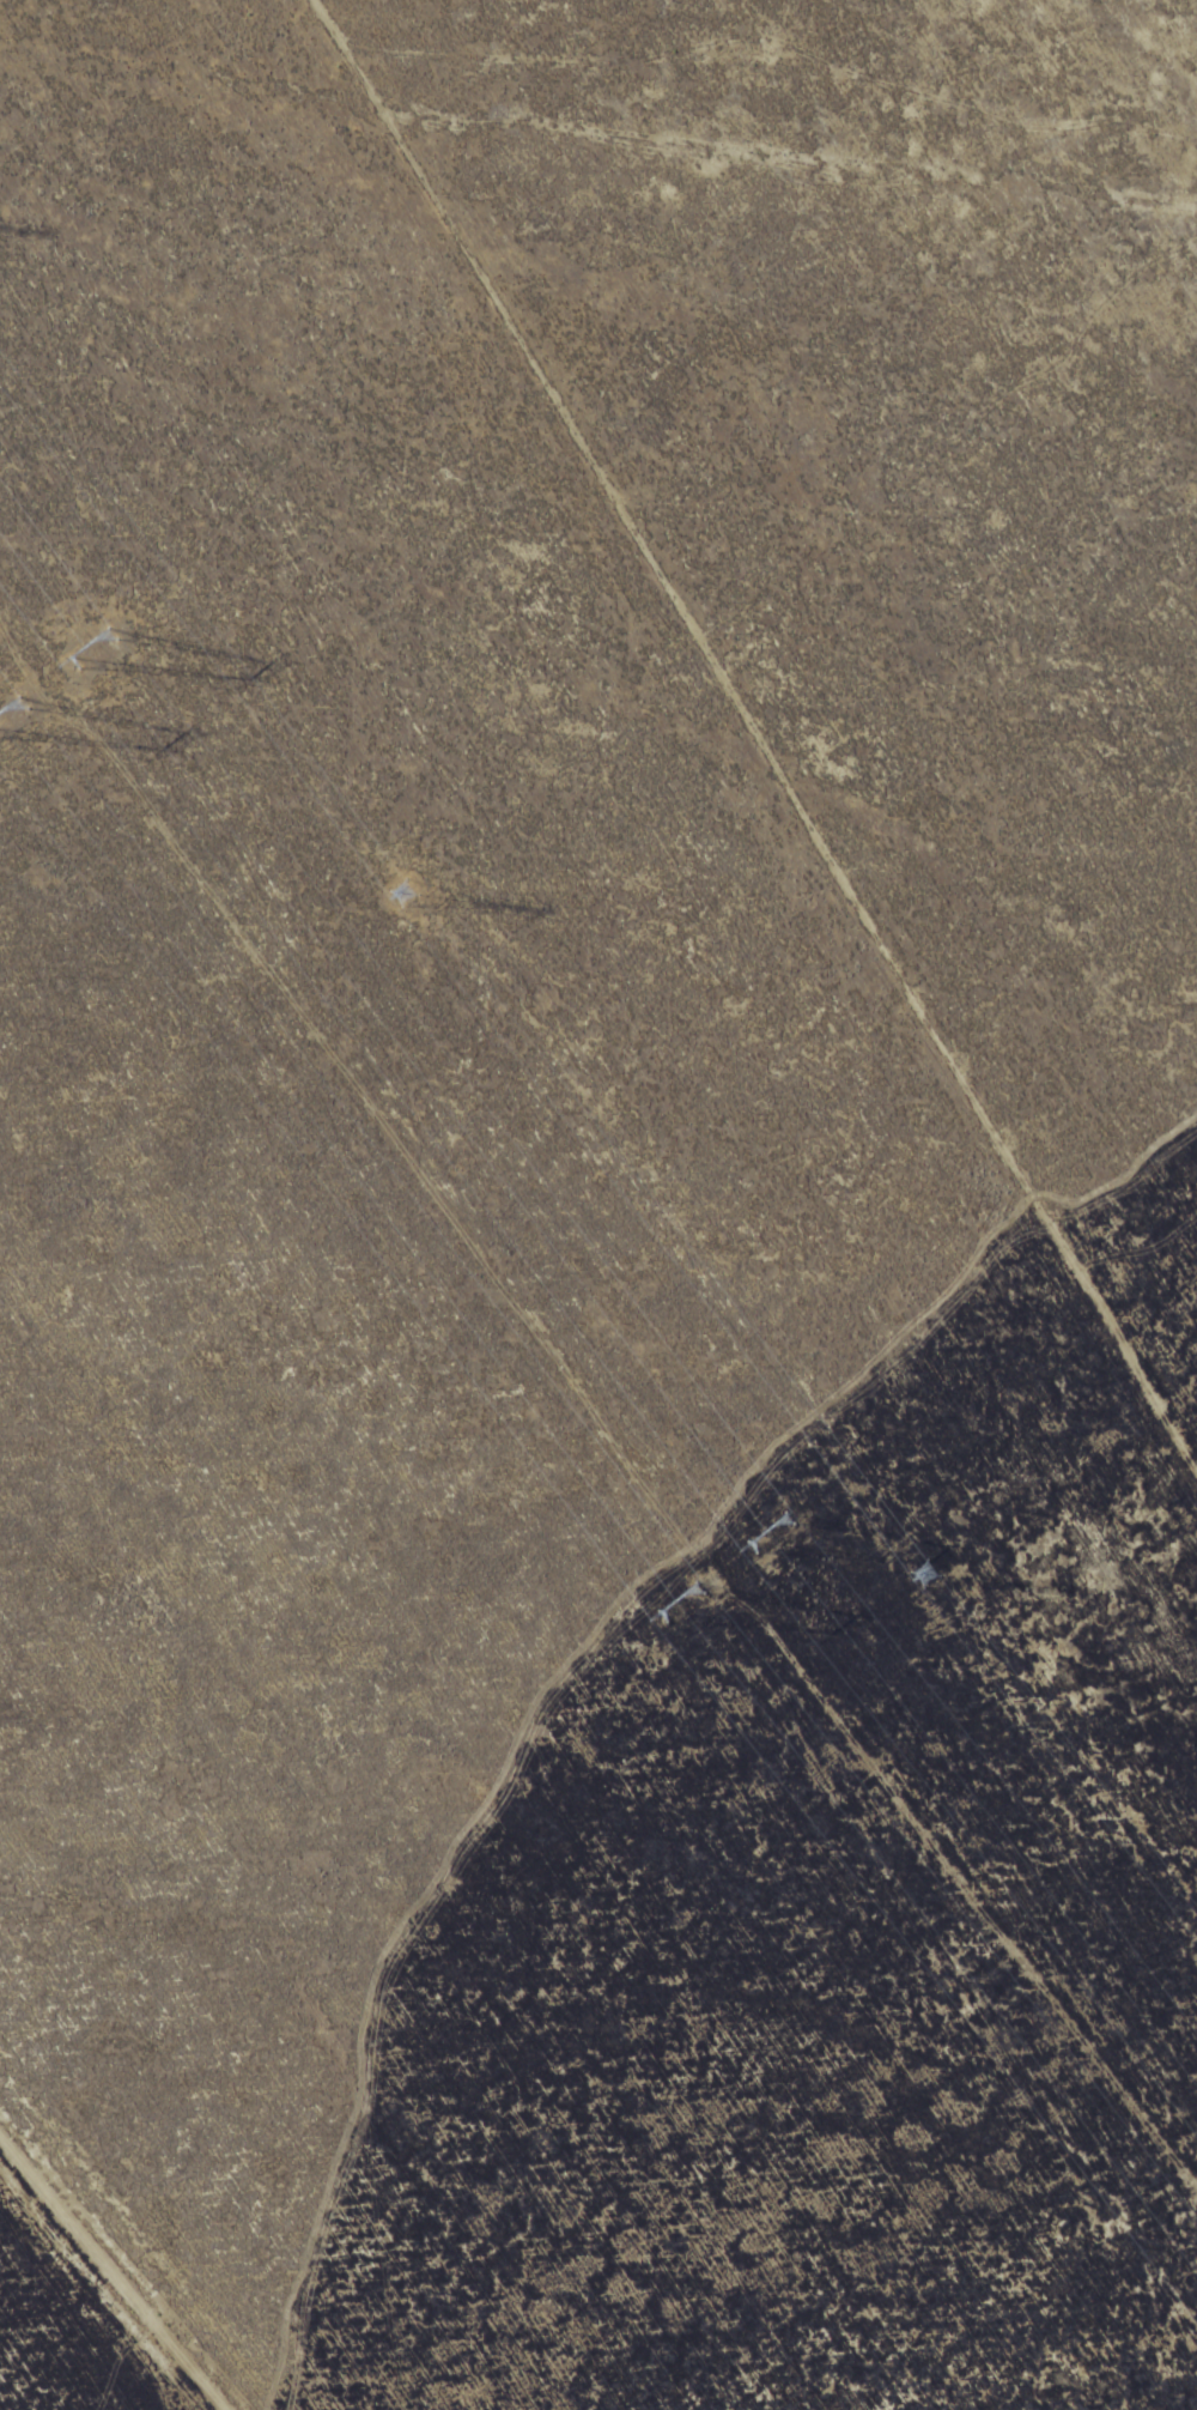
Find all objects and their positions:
power tower: (89, 646)
power tower: (7, 723)
power tower: (402, 890)
power tower: (758, 1532)
power tower: (926, 1574)
power tower: (678, 1610)
road: (97, 2290)

